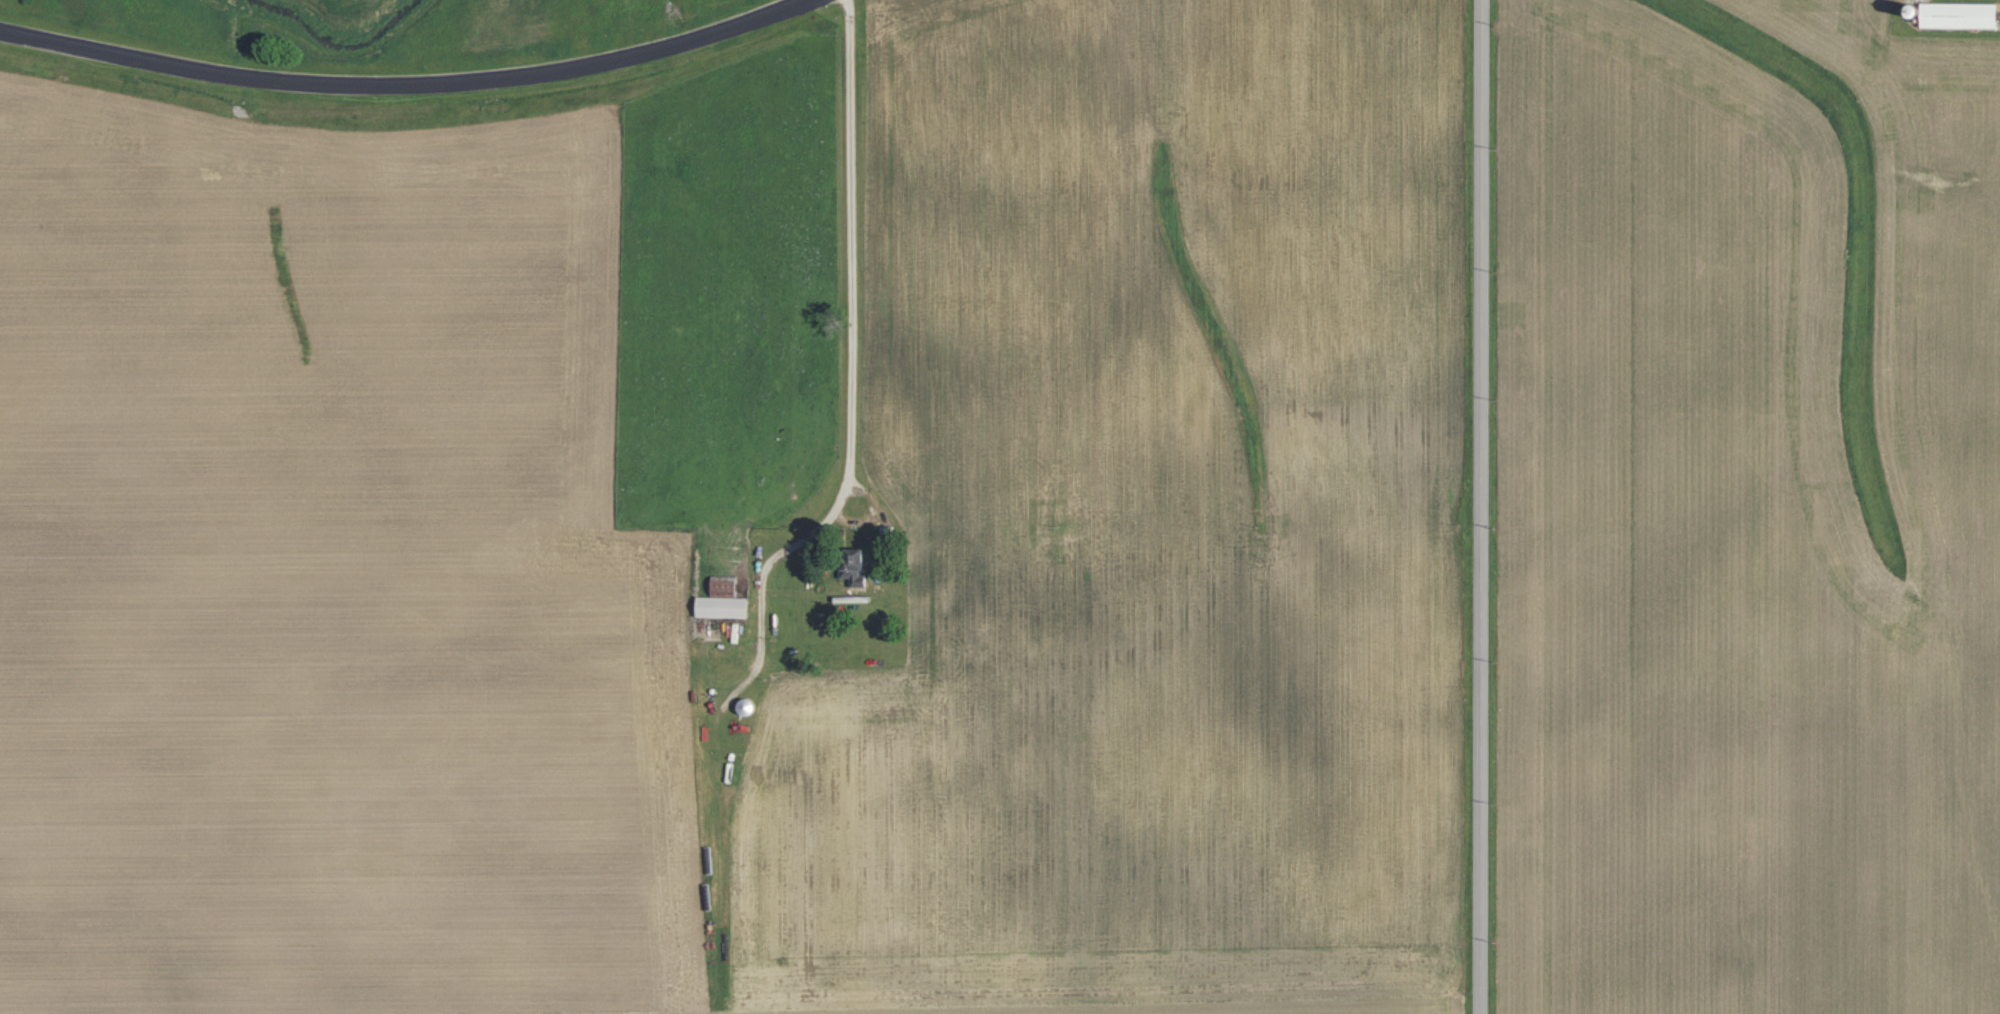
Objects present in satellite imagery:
building: (1958, 15)
road: (417, 92)
road: (862, 339)
road: (1485, 507)
building: (855, 567)
building: (723, 600)

